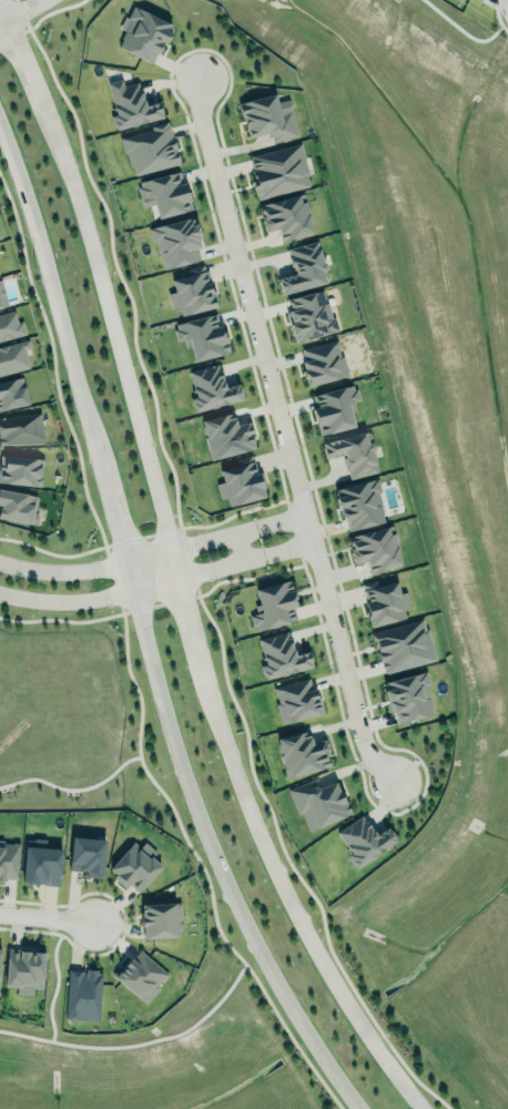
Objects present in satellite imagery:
road: (23, 16)
building: (143, 34)
building: (130, 104)
building: (267, 118)
building: (149, 149)
building: (280, 171)
building: (166, 192)
building: (287, 216)
building: (0, 235)
building: (0, 237)
building: (176, 243)
building: (303, 265)
building: (192, 291)
building: (2, 297)
building: (309, 315)
building: (10, 325)
building: (202, 336)
building: (13, 357)
building: (322, 362)
building: (211, 388)
building: (13, 393)
building: (335, 409)
building: (21, 427)
road: (289, 431)
building: (226, 435)
building: (353, 454)
building: (22, 470)
building: (240, 481)
building: (14, 501)
building: (362, 503)
road: (281, 511)
road: (213, 531)
road: (289, 539)
building: (376, 548)
road: (221, 559)
road: (88, 568)
road: (179, 570)
road: (91, 593)
building: (384, 602)
building: (275, 604)
road: (141, 630)
building: (403, 645)
building: (282, 655)
building: (408, 698)
building: (296, 699)
building: (302, 753)
building: (319, 801)
building: (363, 841)
building: (88, 855)
building: (8, 859)
building: (41, 862)
building: (135, 865)
road: (42, 913)
building: (161, 920)
building: (24, 969)
building: (141, 976)
building: (83, 995)

